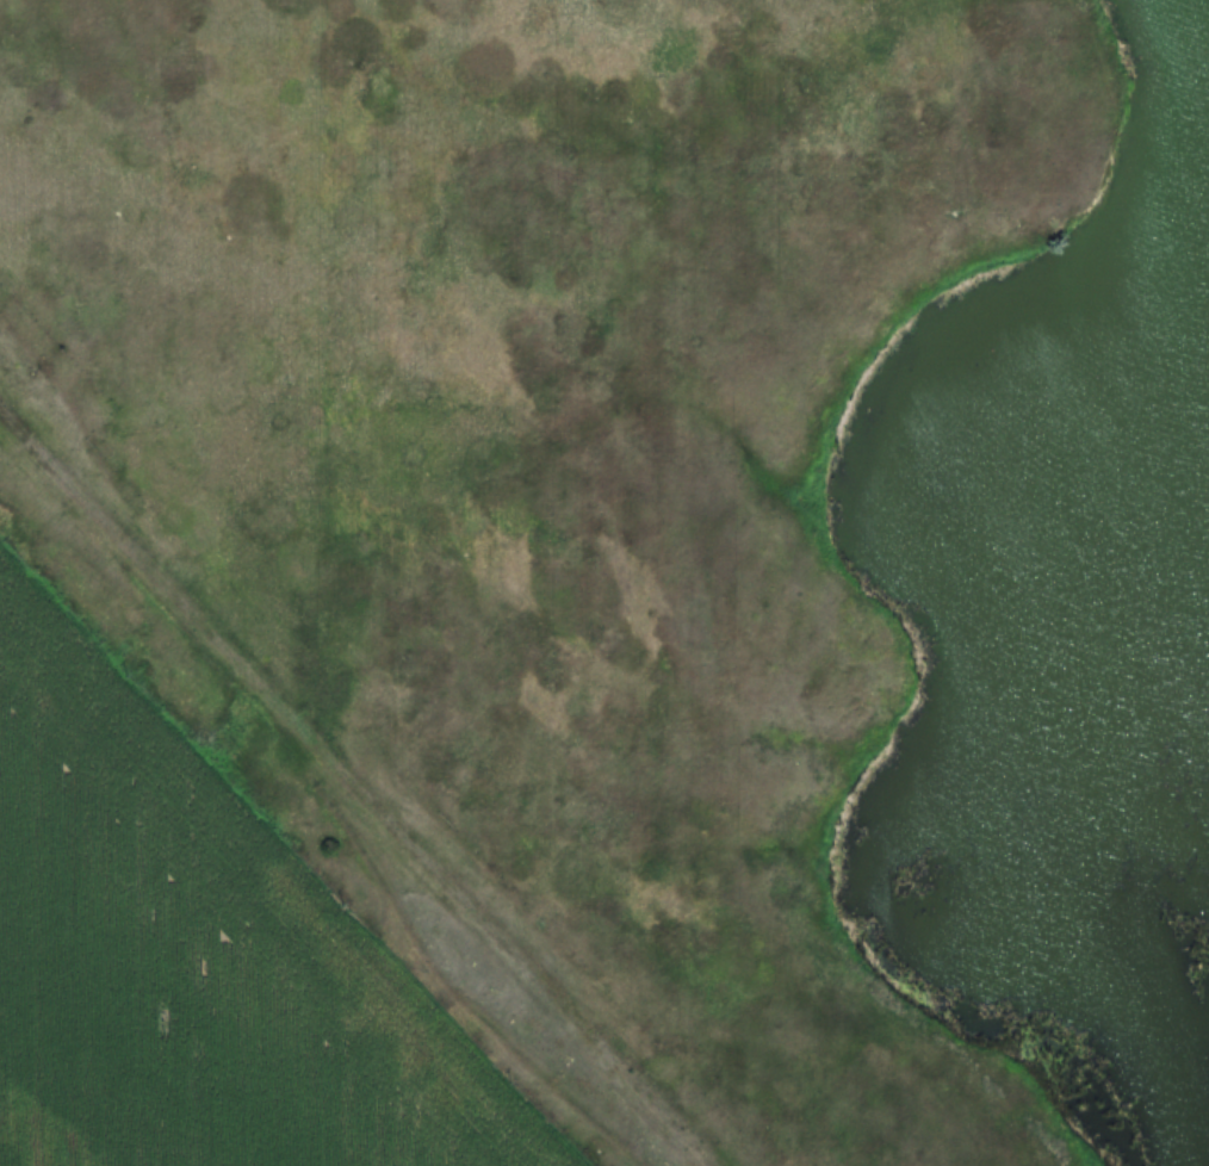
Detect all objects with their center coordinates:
crop: (188, 965)

